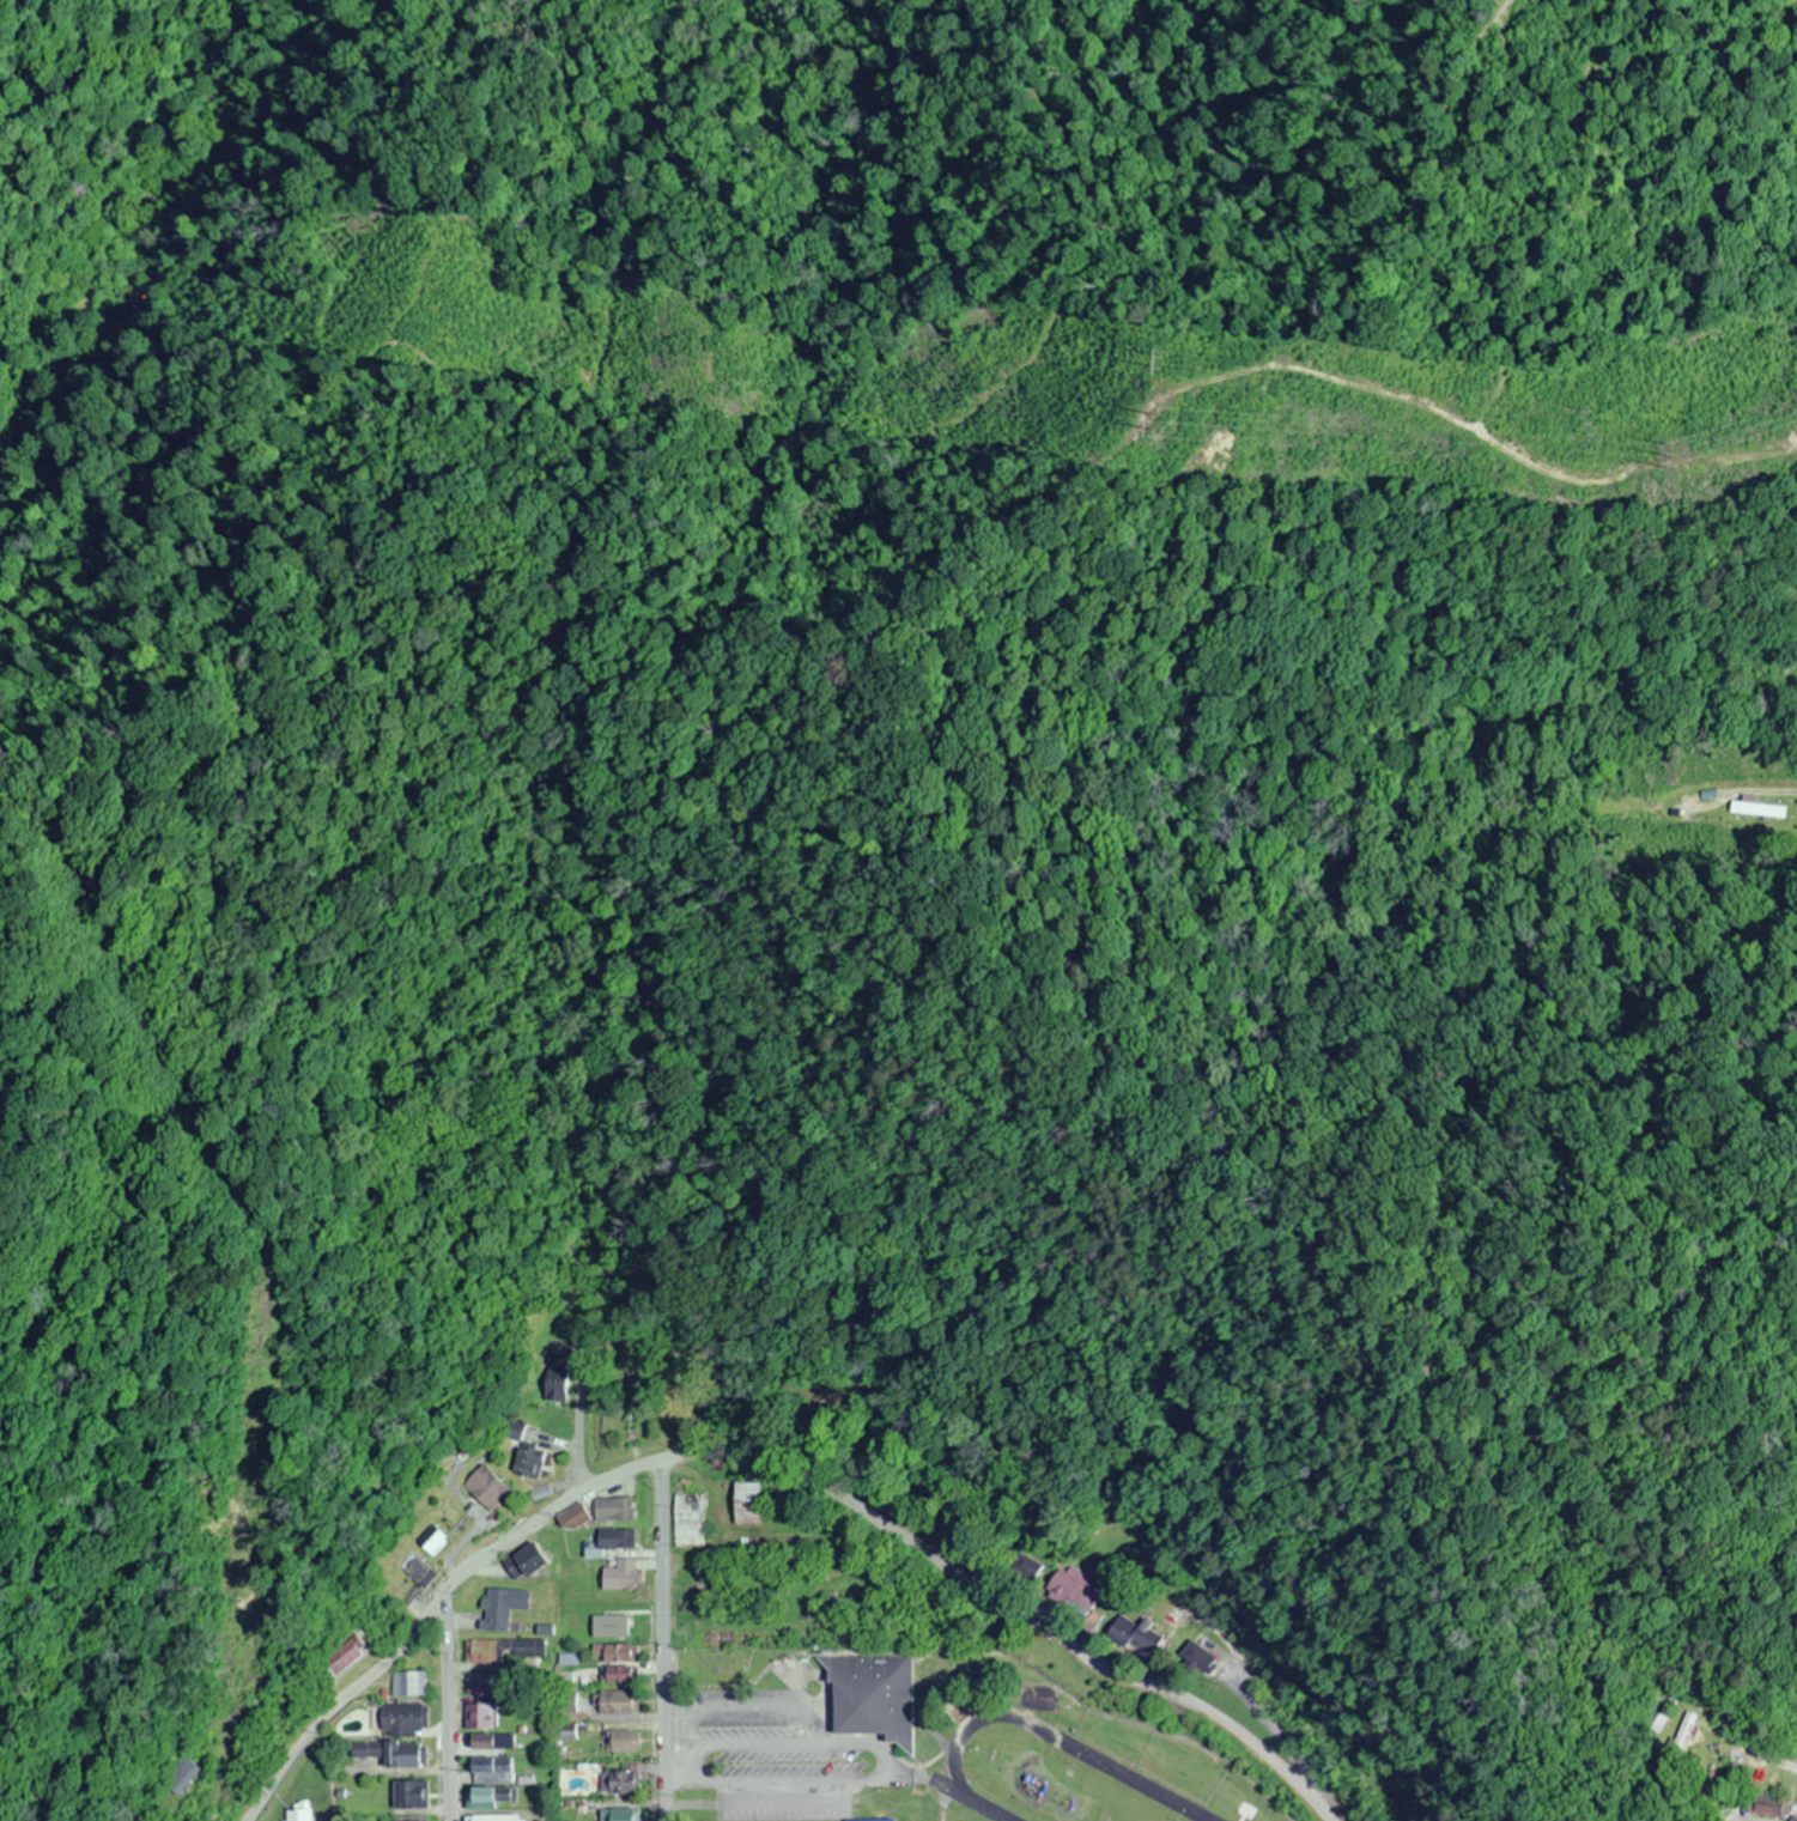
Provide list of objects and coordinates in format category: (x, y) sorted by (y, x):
road: (777, 1439)
building: (535, 1464)
building: (497, 1489)
building: (749, 1504)
building: (619, 1512)
building: (577, 1519)
building: (692, 1522)
building: (620, 1541)
building: (530, 1565)
building: (625, 1578)
building: (1076, 1592)
building: (505, 1610)
road: (666, 1629)
building: (1142, 1638)
building: (503, 1652)
building: (619, 1656)
building: (357, 1659)
building: (625, 1677)
building: (411, 1686)
building: (484, 1687)
building: (878, 1698)
road: (438, 1700)
building: (620, 1705)
building: (481, 1718)
building: (403, 1720)
building: (621, 1743)
building: (486, 1744)
building: (405, 1756)
track: (1104, 1762)
building: (492, 1772)
building: (623, 1784)
building: (409, 1798)
building: (485, 1799)
road: (1795, 1813)
building: (620, 1815)
building: (499, 1819)

